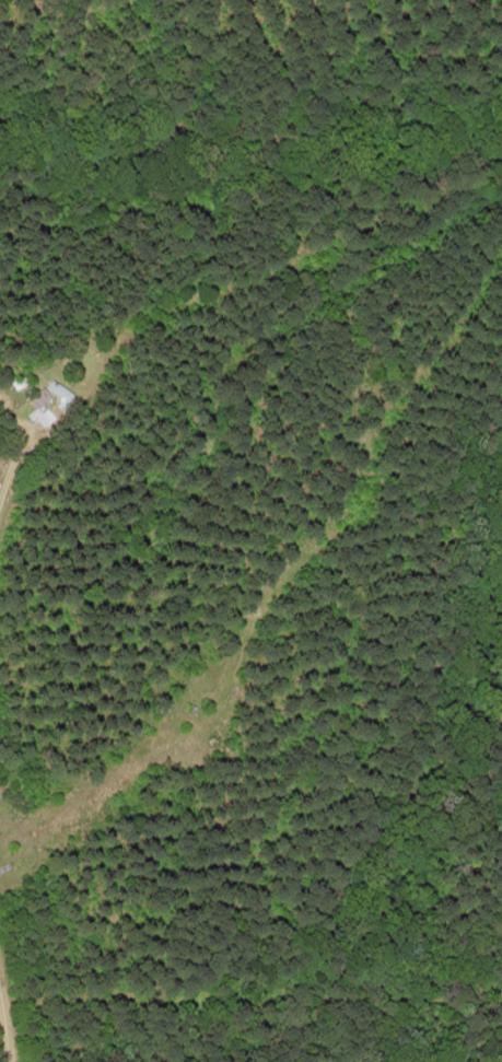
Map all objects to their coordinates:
building: (50, 390)

